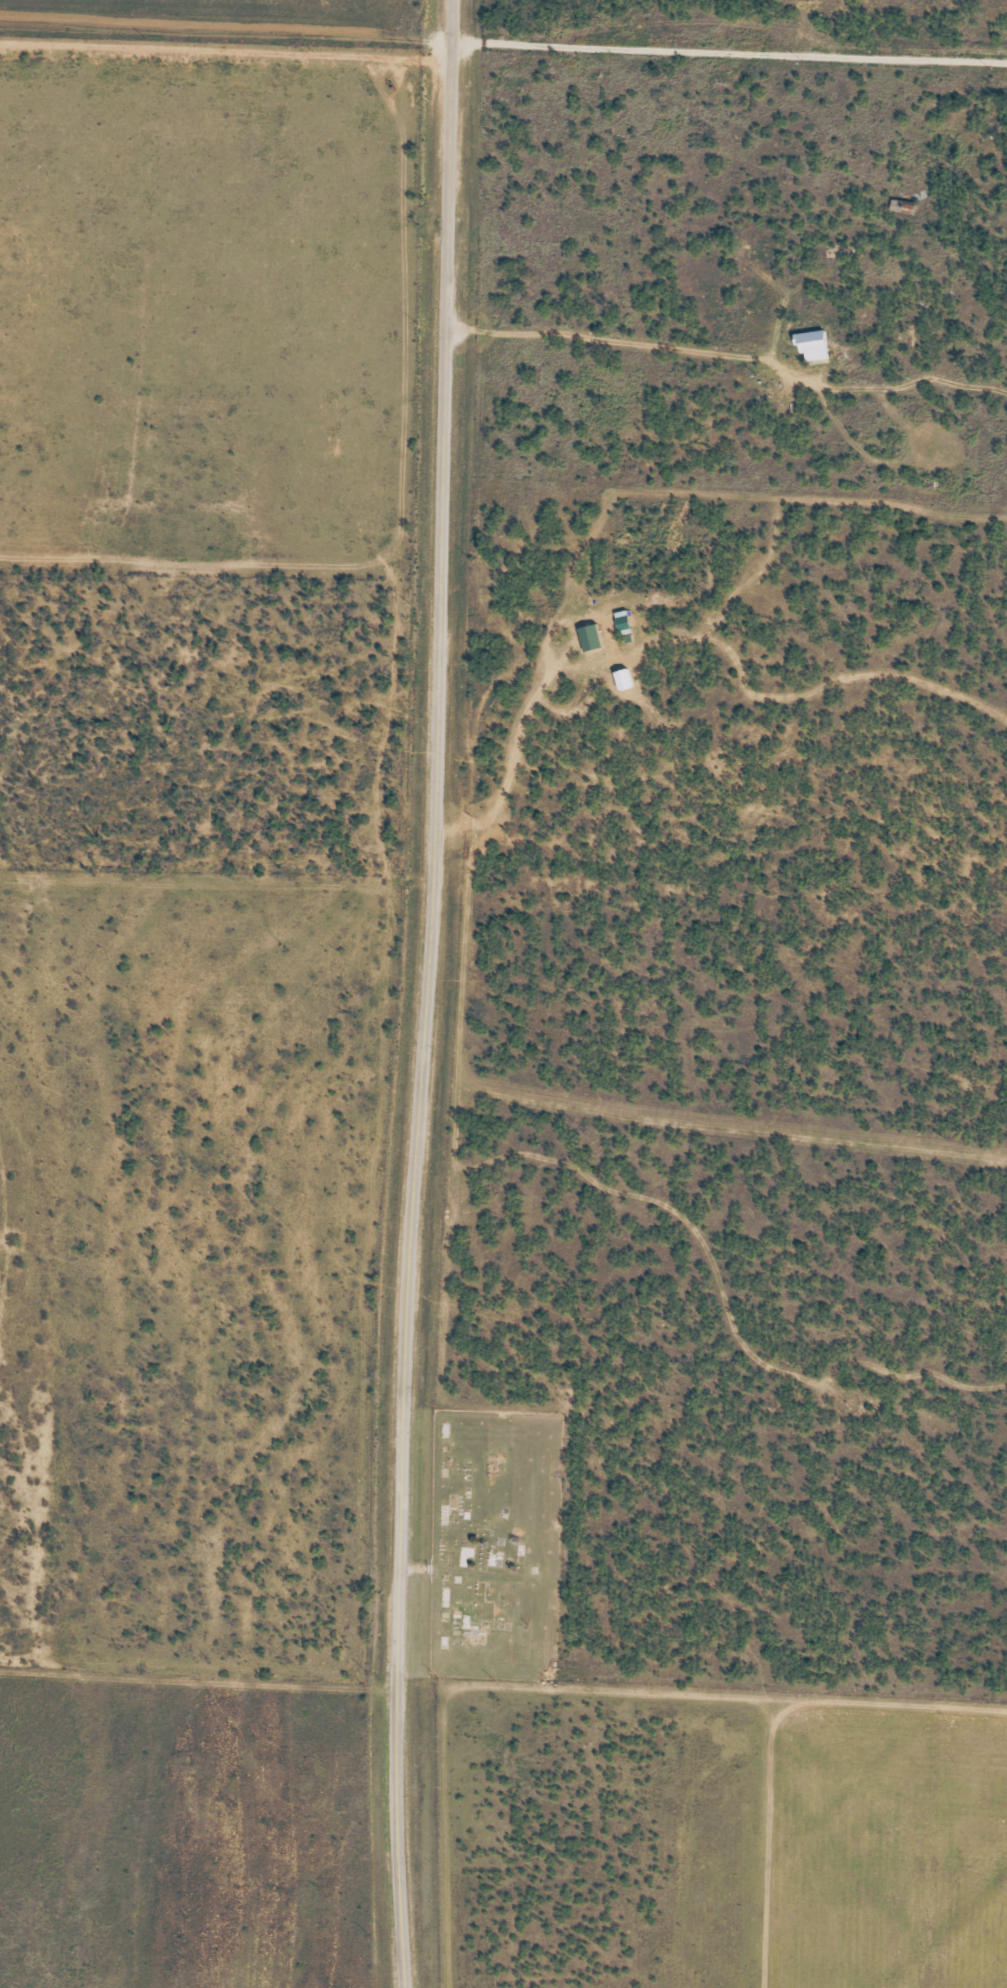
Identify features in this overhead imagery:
road: (226, 46)
building: (812, 345)
road: (727, 387)
building: (591, 637)
road: (429, 994)
park: (494, 1542)
road: (199, 1698)

